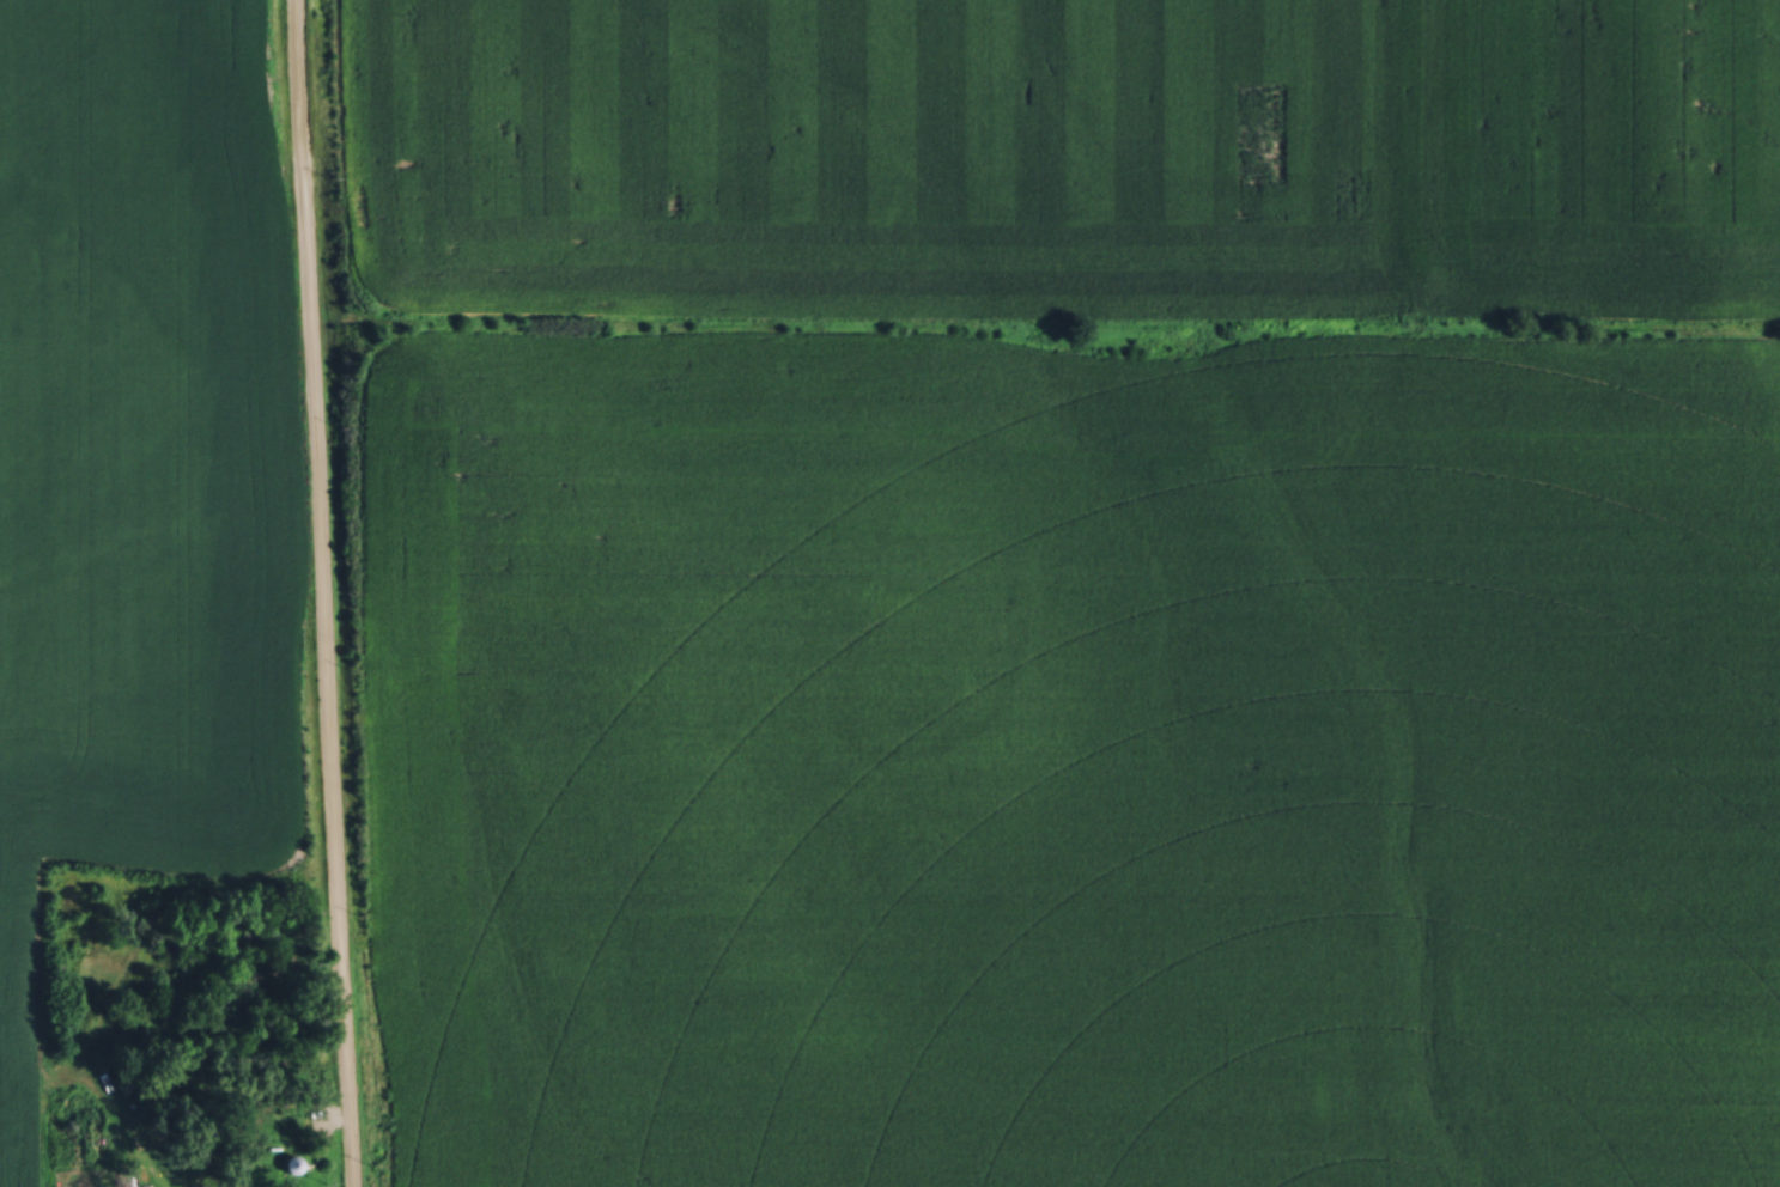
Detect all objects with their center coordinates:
road: (323, 593)
building: (288, 1161)
road: (129, 1182)

